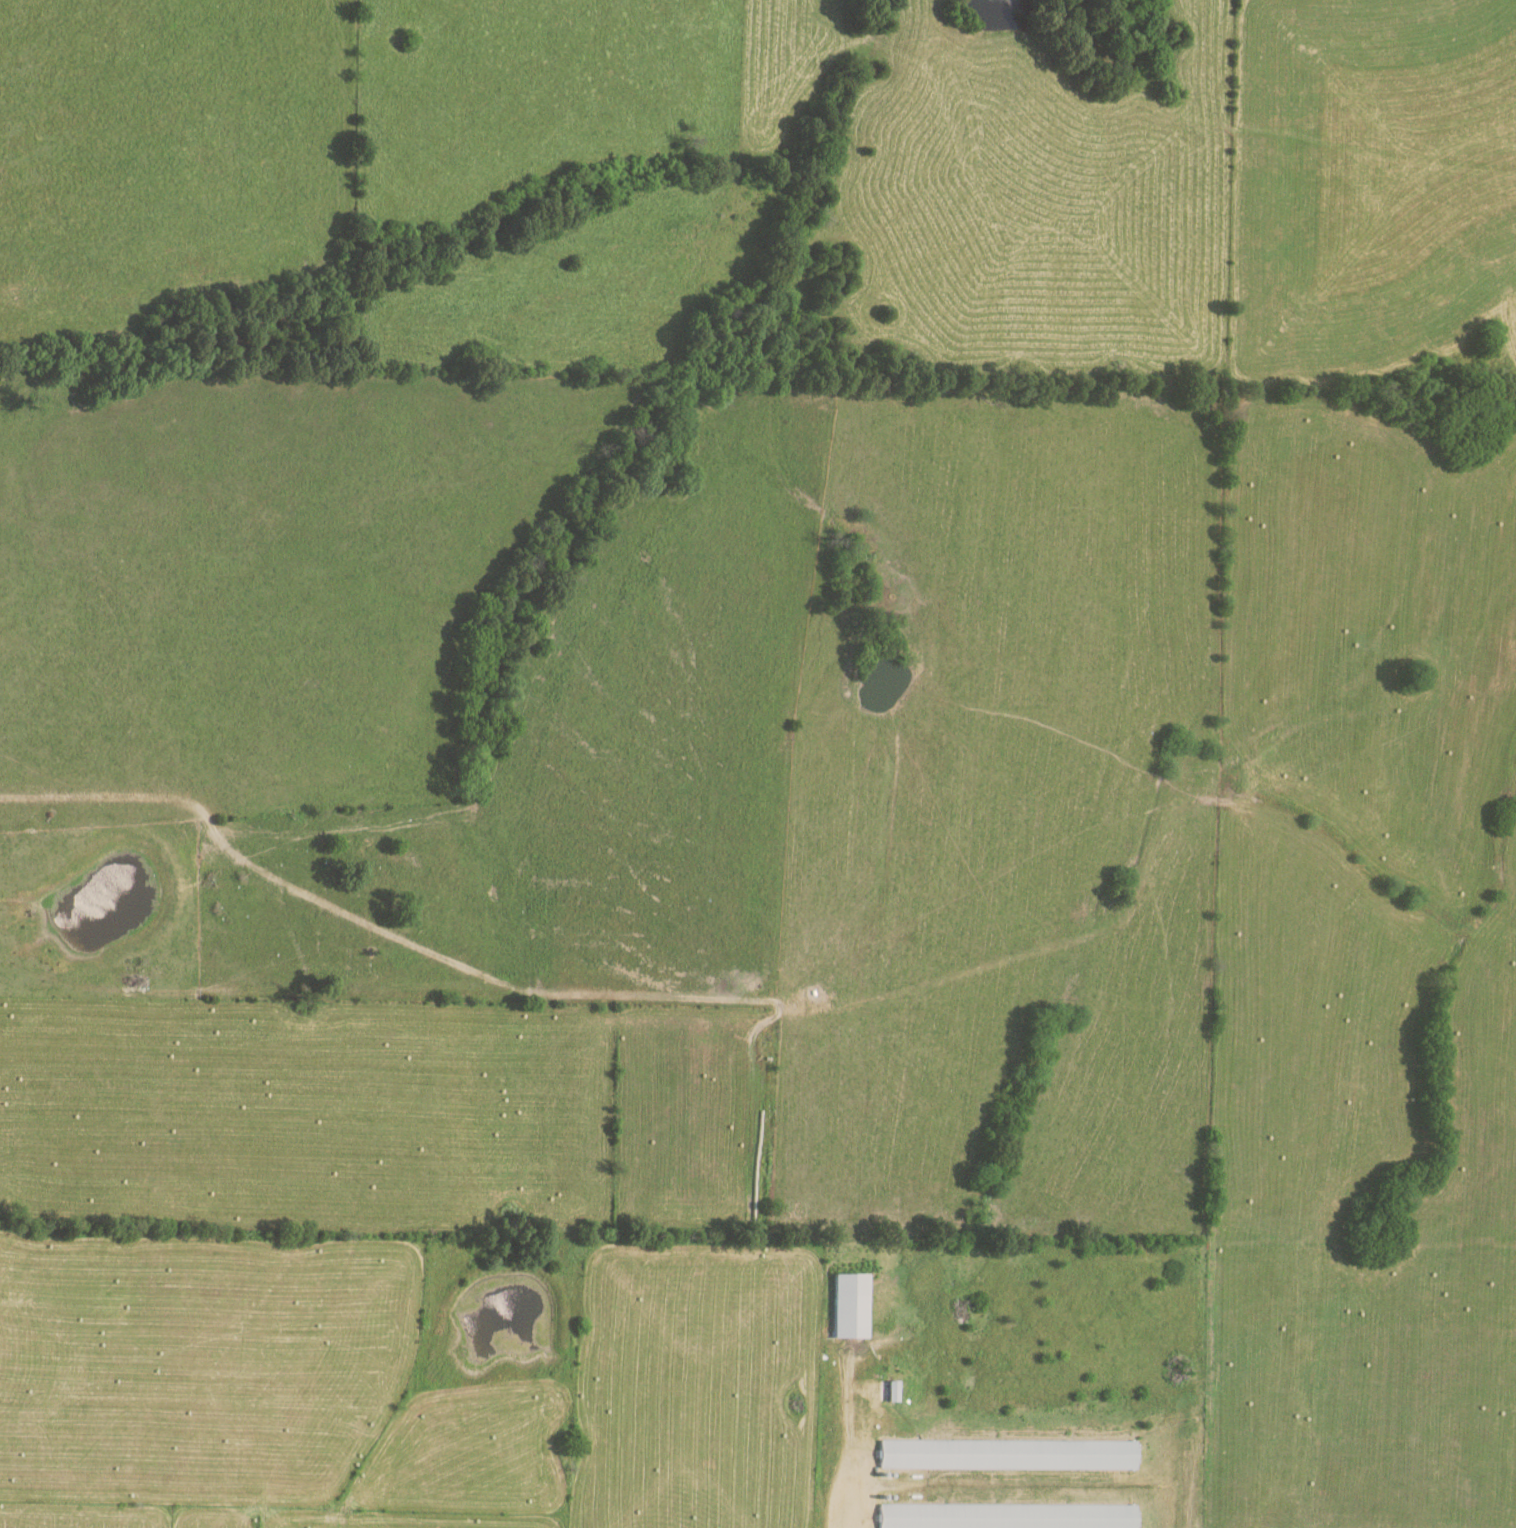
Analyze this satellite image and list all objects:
building: (855, 1305)
building: (895, 1390)
building: (1010, 1453)
road: (851, 1487)
building: (1011, 1515)

